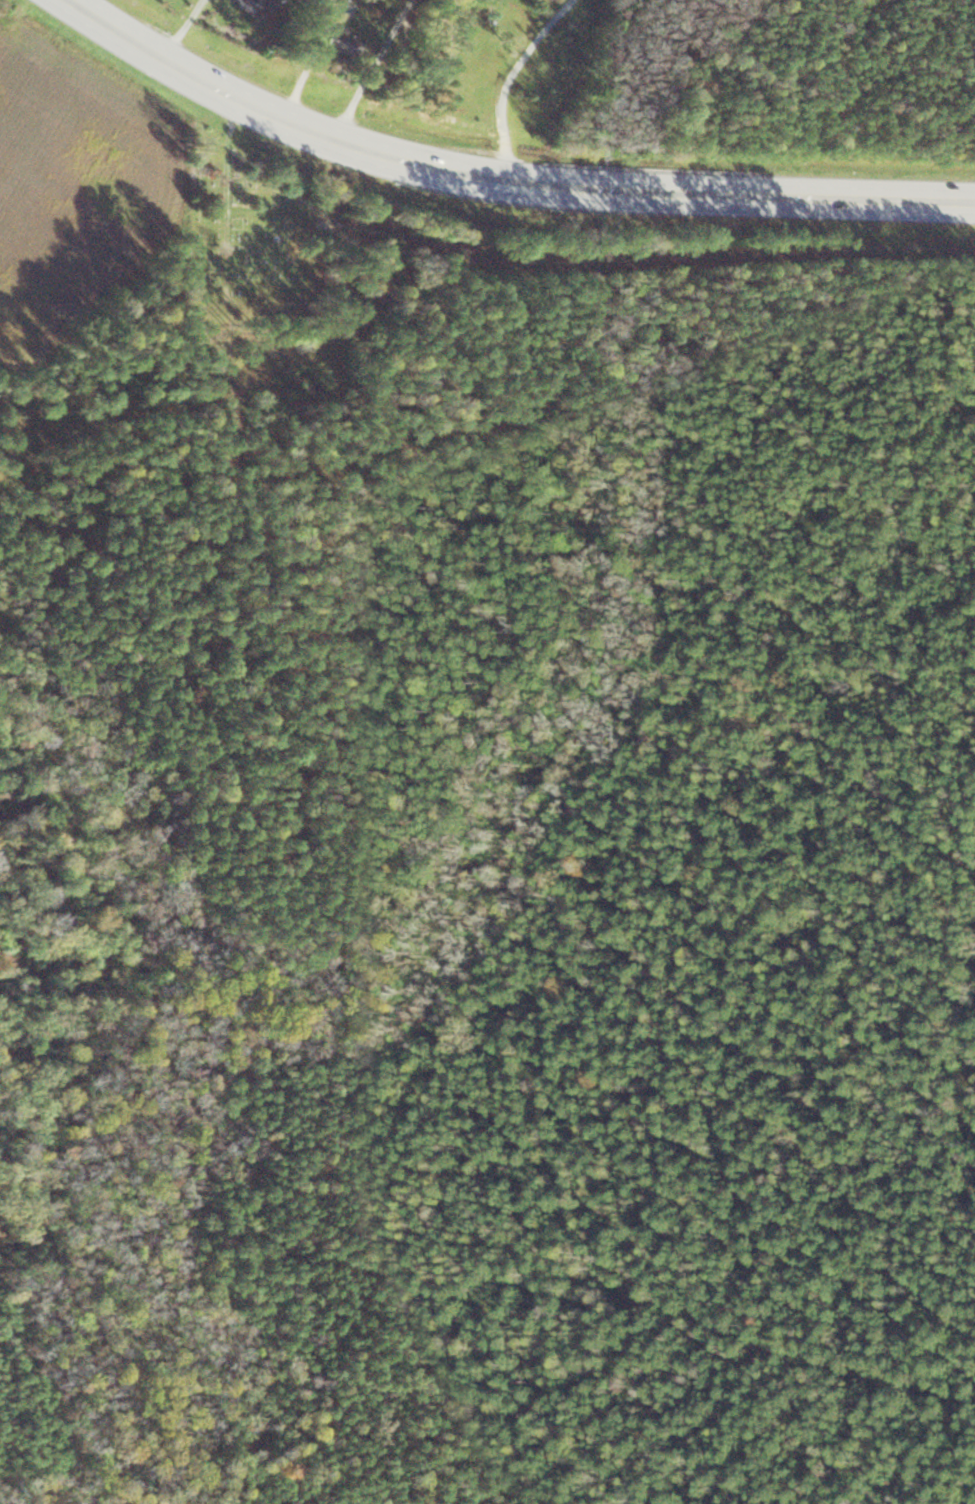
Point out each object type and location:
building: (256, 2)
road: (177, 28)
road: (509, 82)
road: (502, 179)
park: (246, 239)

